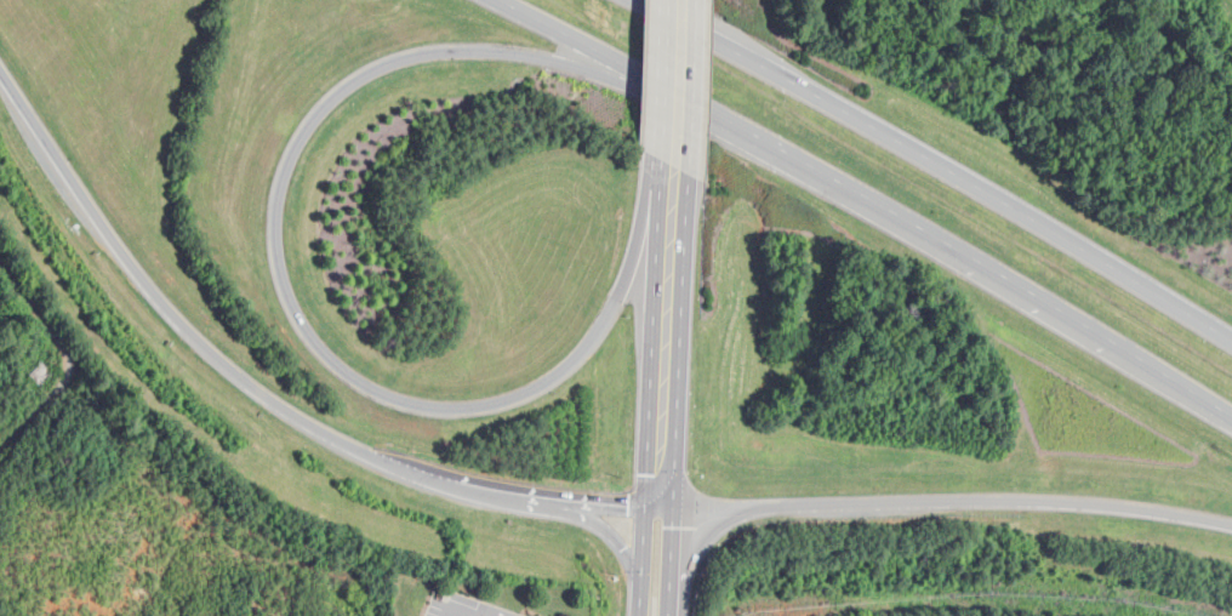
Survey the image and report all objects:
road: (662, 80)
road: (690, 87)
road: (662, 170)
road: (930, 176)
road: (869, 209)
road: (278, 244)
road: (681, 343)
road: (654, 346)
road: (62, 360)
road: (256, 392)
road: (939, 503)
traffic signals: (645, 512)
traffic signals: (674, 512)
road: (588, 520)
road: (640, 564)
road: (671, 564)
road: (479, 609)

